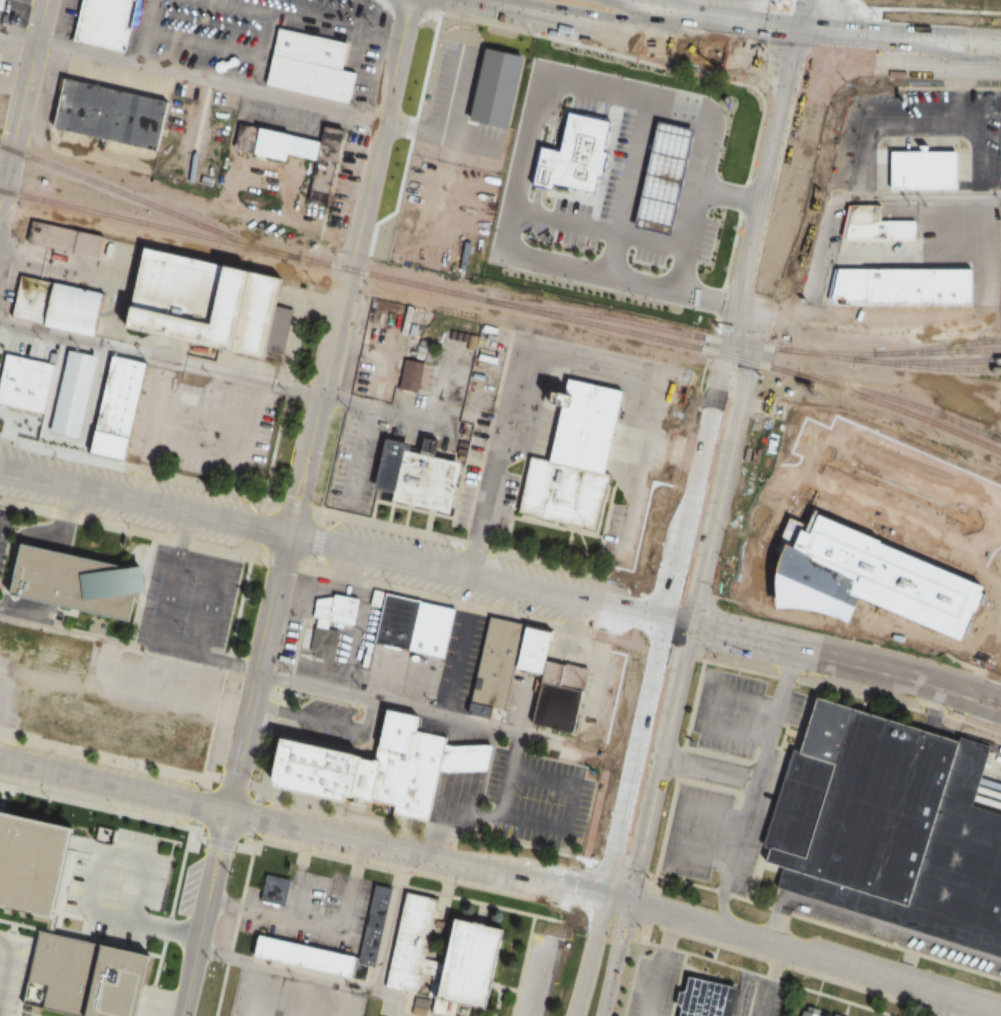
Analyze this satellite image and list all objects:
road: (778, 0)
park: (959, 2)
road: (481, 3)
road: (861, 3)
road: (838, 5)
road: (632, 8)
road: (932, 8)
road: (475, 19)
road: (570, 20)
building: (102, 21)
road: (810, 21)
road: (723, 29)
traffic signals: (806, 43)
road: (903, 51)
building: (0, 55)
building: (312, 66)
road: (189, 77)
road: (864, 82)
road: (22, 99)
road: (753, 102)
road: (758, 102)
building: (590, 107)
road: (831, 109)
building: (105, 114)
building: (301, 154)
road: (822, 154)
building: (929, 168)
road: (886, 200)
railway: (146, 204)
road: (229, 209)
railway: (147, 224)
building: (69, 237)
building: (656, 252)
building: (895, 268)
building: (207, 300)
building: (62, 304)
railway: (645, 325)
road: (743, 332)
railway: (653, 337)
road: (707, 346)
railway: (944, 346)
railway: (905, 352)
railway: (904, 361)
railway: (940, 368)
road: (223, 373)
building: (460, 373)
building: (413, 375)
building: (40, 380)
railway: (907, 402)
building: (117, 411)
building: (20, 412)
building: (574, 456)
road: (809, 458)
road: (758, 472)
building: (419, 475)
road: (738, 483)
parking lot: (895, 488)
road: (294, 508)
road: (338, 546)
building: (75, 580)
building: (374, 598)
building: (395, 621)
traffic signals: (677, 622)
building: (420, 627)
road: (859, 628)
building: (319, 629)
building: (437, 630)
road: (458, 646)
building: (531, 649)
road: (840, 657)
building: (494, 668)
building: (57, 683)
road: (323, 690)
building: (558, 698)
road: (697, 709)
road: (764, 757)
building: (455, 761)
road: (647, 761)
road: (703, 768)
building: (362, 770)
parking lot: (762, 780)
parking lot: (994, 787)
parking lot: (538, 798)
road: (670, 827)
building: (891, 827)
road: (309, 829)
building: (89, 848)
road: (100, 852)
building: (159, 859)
road: (249, 864)
building: (32, 866)
building: (278, 890)
traffic signals: (618, 900)
road: (723, 910)
road: (168, 921)
road: (165, 925)
parking lot: (906, 938)
building: (484, 944)
road: (590, 954)
road: (809, 956)
building: (306, 957)
road: (615, 958)
road: (7, 964)
parking lot: (12, 970)
building: (85, 977)
parking lot: (536, 977)
road: (534, 983)
parking lot: (651, 983)
road: (353, 986)
parking lot: (761, 995)
building: (706, 998)
road: (959, 1009)
building: (813, 1012)
building: (838, 1015)

